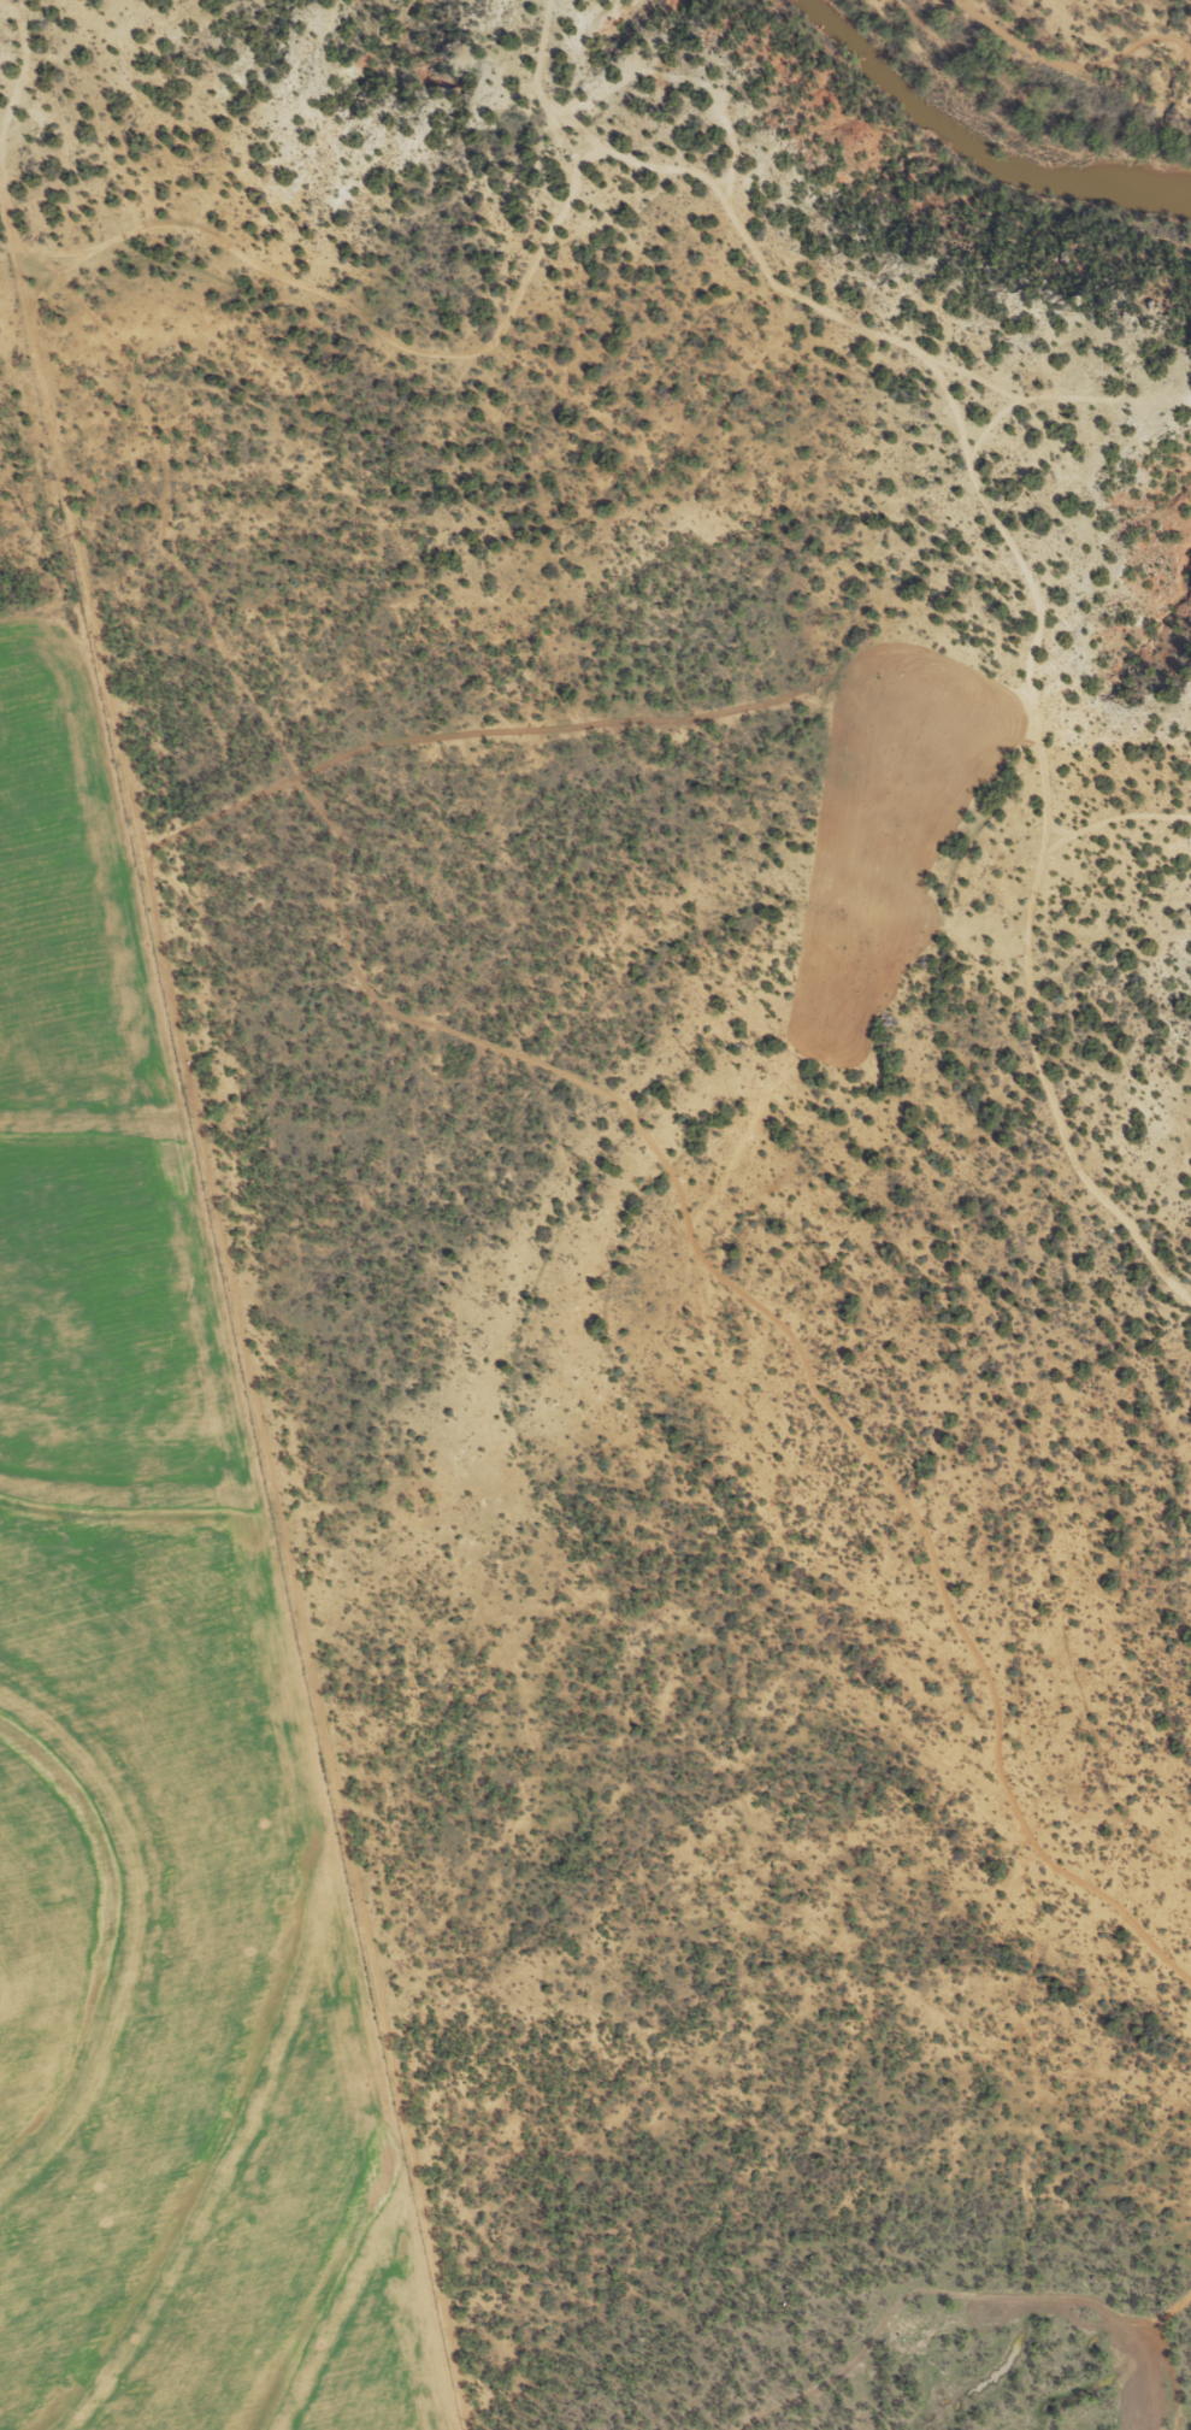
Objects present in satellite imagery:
river: (971, 148)
road: (318, 1446)

